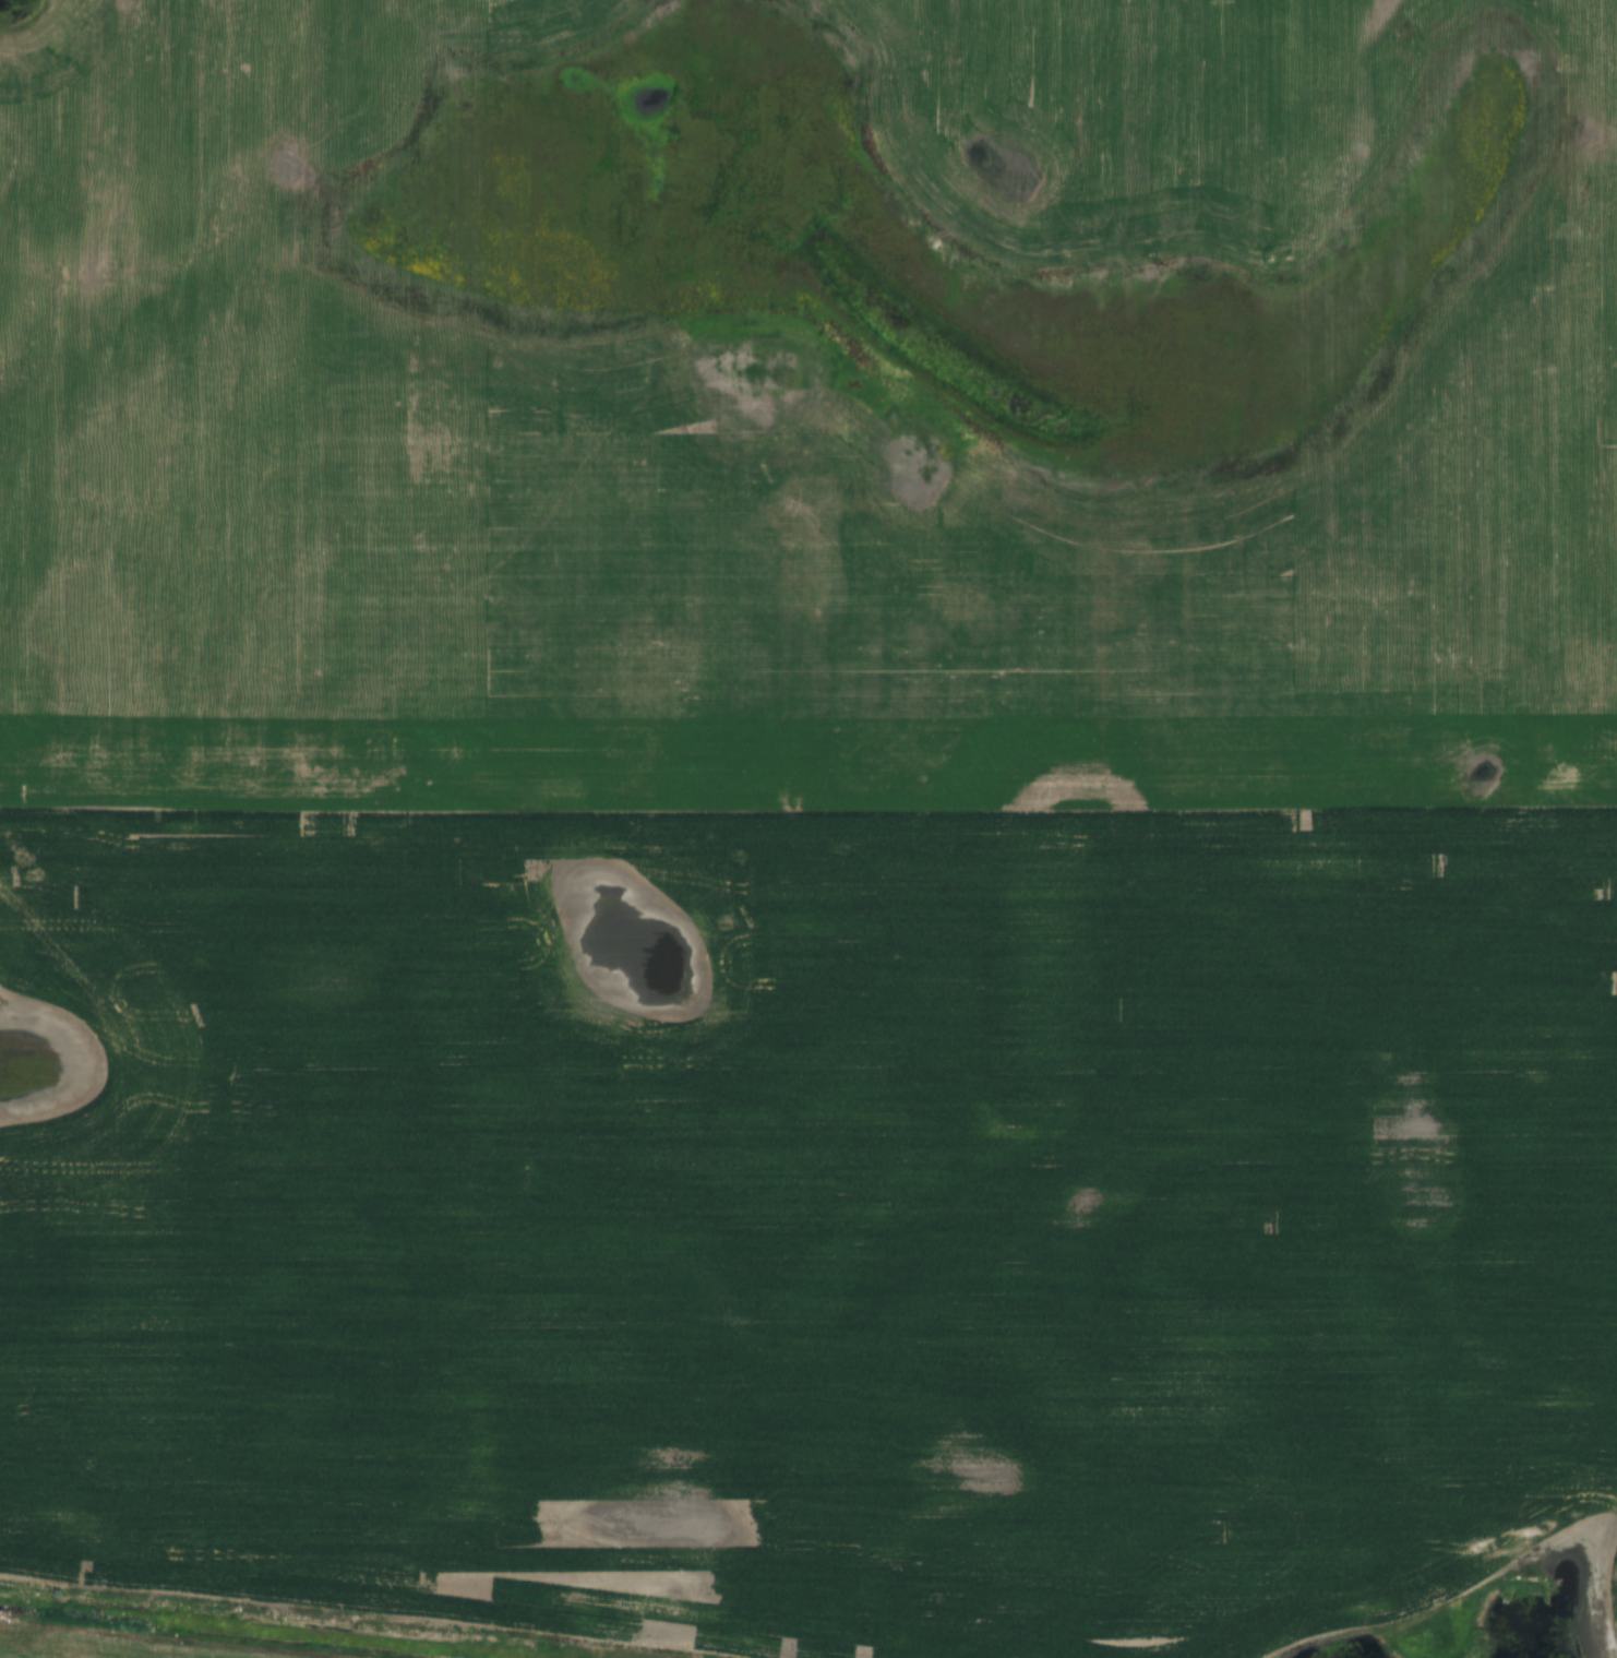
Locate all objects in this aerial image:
railway: (273, 1629)

